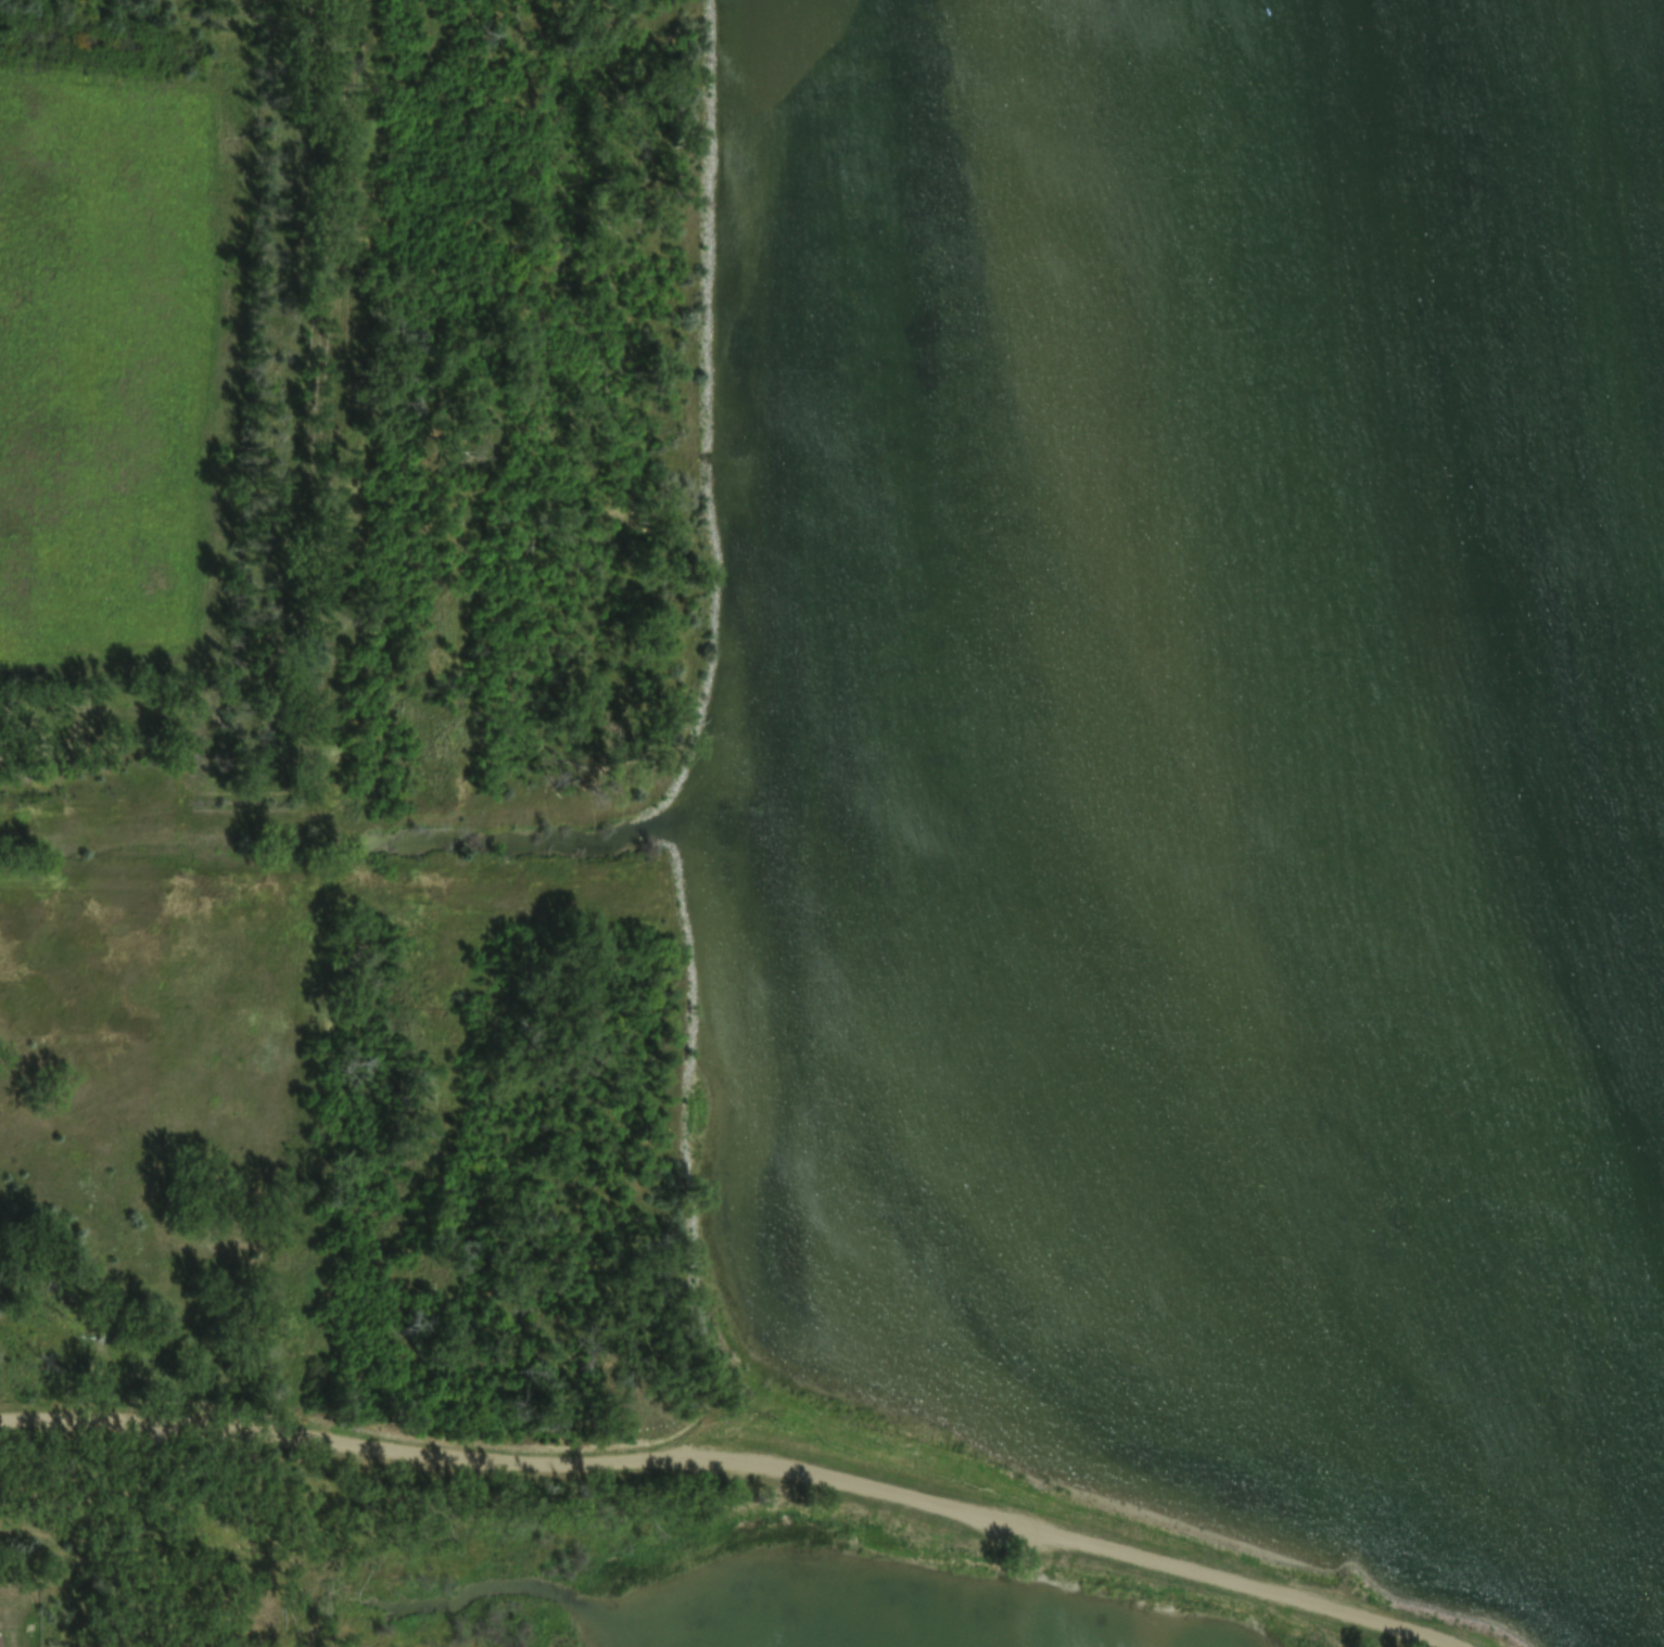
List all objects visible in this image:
road: (734, 1457)

